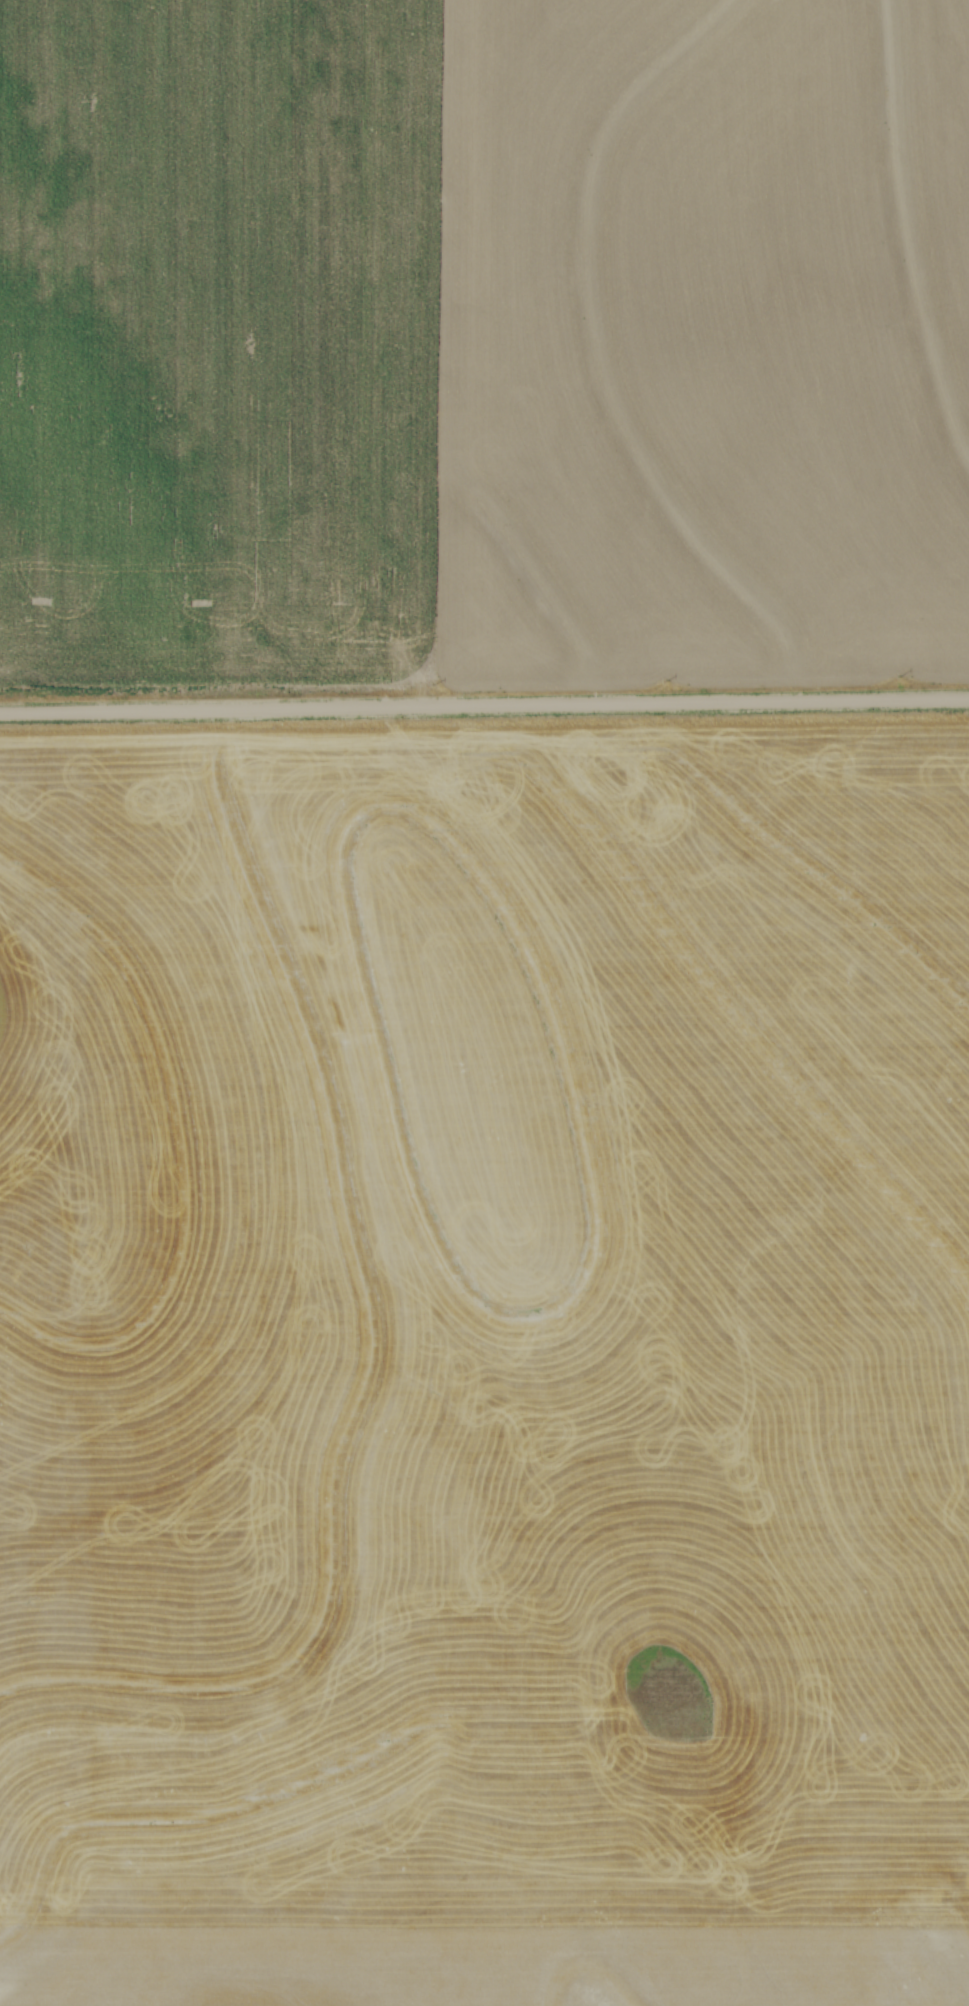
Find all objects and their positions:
crop: (219, 339)
road: (484, 706)

